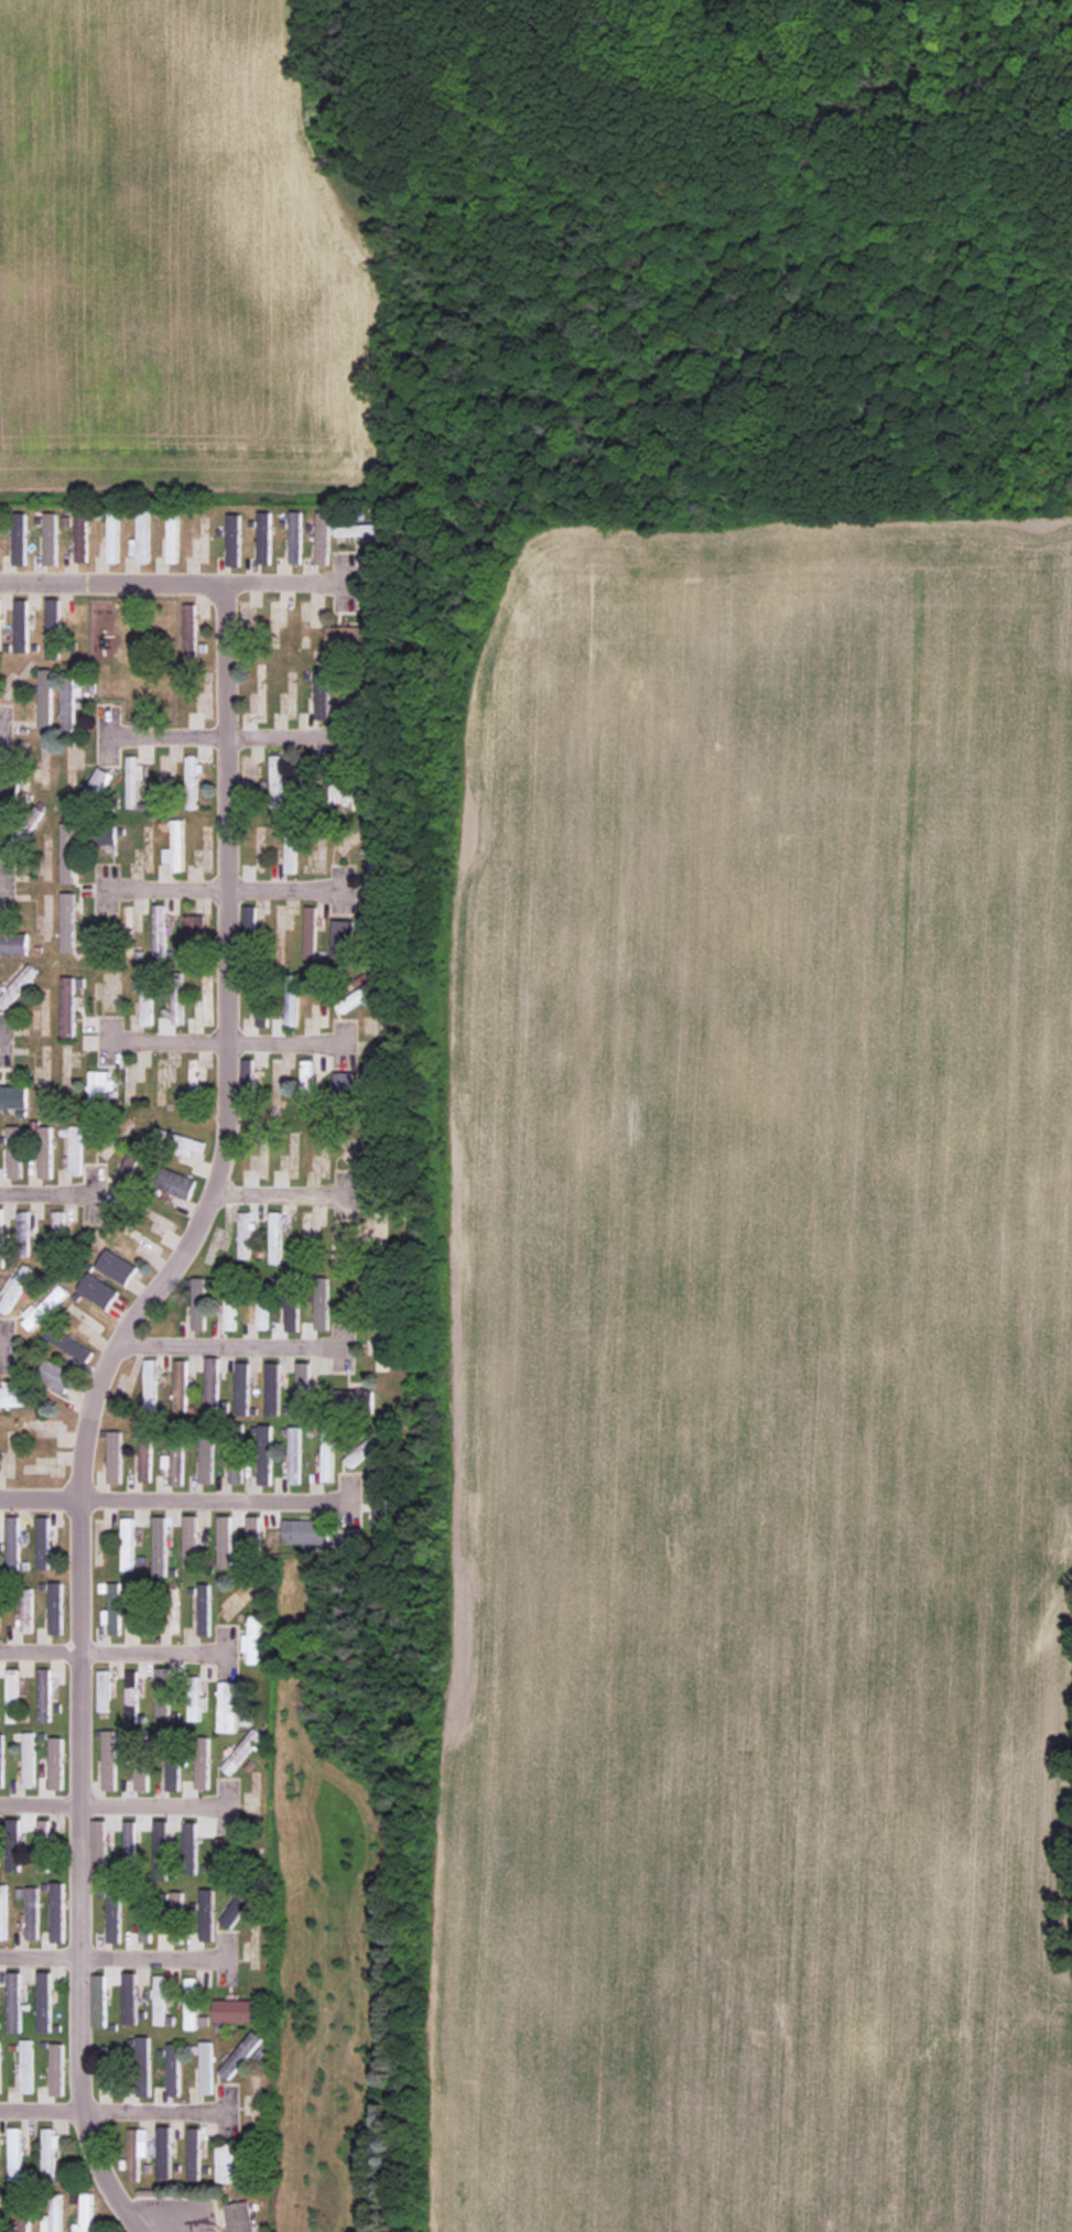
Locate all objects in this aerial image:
building: (324, 519)
building: (263, 521)
building: (295, 526)
building: (361, 531)
building: (112, 535)
building: (20, 538)
building: (51, 539)
building: (234, 540)
road: (176, 584)
building: (21, 626)
building: (53, 629)
building: (190, 629)
building: (349, 638)
building: (0, 643)
building: (322, 693)
building: (45, 698)
building: (71, 700)
road: (3, 736)
road: (230, 736)
building: (133, 780)
building: (192, 780)
building: (277, 783)
building: (97, 784)
building: (8, 792)
building: (348, 793)
building: (106, 836)
building: (175, 847)
building: (290, 849)
building: (67, 853)
building: (375, 865)
road: (223, 890)
building: (127, 918)
building: (67, 922)
building: (159, 931)
building: (310, 931)
building: (343, 939)
building: (13, 943)
building: (17, 986)
building: (359, 994)
building: (145, 1000)
building: (67, 1006)
building: (176, 1006)
building: (291, 1006)
building: (261, 1015)
road: (0, 1039)
road: (225, 1044)
building: (248, 1075)
building: (306, 1081)
building: (100, 1090)
building: (342, 1090)
building: (12, 1096)
building: (175, 1142)
building: (75, 1150)
building: (13, 1151)
building: (44, 1152)
building: (130, 1167)
building: (175, 1183)
road: (279, 1194)
road: (50, 1195)
building: (57, 1224)
building: (22, 1225)
building: (1, 1231)
building: (243, 1235)
building: (274, 1237)
building: (116, 1267)
building: (14, 1286)
building: (97, 1290)
building: (198, 1303)
building: (291, 1303)
building: (321, 1303)
building: (43, 1308)
building: (229, 1312)
building: (261, 1314)
building: (67, 1344)
road: (229, 1346)
road: (3, 1347)
building: (55, 1375)
building: (210, 1384)
building: (149, 1385)
building: (180, 1386)
building: (304, 1387)
building: (241, 1388)
building: (272, 1388)
building: (13, 1397)
road: (90, 1398)
building: (359, 1398)
building: (366, 1444)
building: (327, 1452)
building: (144, 1455)
building: (174, 1455)
building: (263, 1455)
building: (294, 1455)
building: (113, 1456)
building: (206, 1456)
building: (236, 1467)
building: (381, 1498)
road: (177, 1500)
building: (253, 1530)
building: (306, 1531)
building: (190, 1541)
building: (225, 1541)
building: (43, 1542)
building: (12, 1543)
building: (127, 1543)
building: (159, 1546)
building: (55, 1608)
building: (113, 1608)
building: (25, 1610)
building: (204, 1610)
building: (142, 1625)
building: (251, 1640)
road: (118, 1650)
building: (102, 1691)
building: (163, 1693)
building: (44, 1694)
building: (12, 1695)
building: (131, 1697)
building: (195, 1704)
building: (1, 1744)
building: (29, 1759)
building: (109, 1760)
building: (56, 1763)
building: (203, 1768)
building: (173, 1773)
building: (1, 1775)
building: (142, 1777)
road: (117, 1805)
building: (13, 1828)
building: (129, 1842)
building: (46, 1845)
building: (99, 1845)
building: (190, 1848)
building: (161, 1851)
building: (227, 1854)
building: (13, 1856)
building: (176, 1903)
building: (235, 1910)
building: (57, 1911)
building: (3, 1913)
building: (32, 1914)
building: (206, 1915)
building: (113, 1918)
building: (144, 1928)
road: (113, 1959)
building: (129, 1998)
building: (160, 2000)
building: (99, 2001)
building: (14, 2002)
building: (44, 2002)
building: (191, 2004)
building: (235, 2011)
building: (240, 2055)
building: (26, 2066)
building: (142, 2066)
building: (206, 2068)
building: (0, 2069)
building: (57, 2070)
building: (173, 2070)
road: (117, 2109)
building: (136, 2150)
building: (48, 2152)
building: (163, 2153)
building: (194, 2153)
building: (226, 2163)
building: (85, 2214)
building: (239, 2217)
building: (24, 2218)

